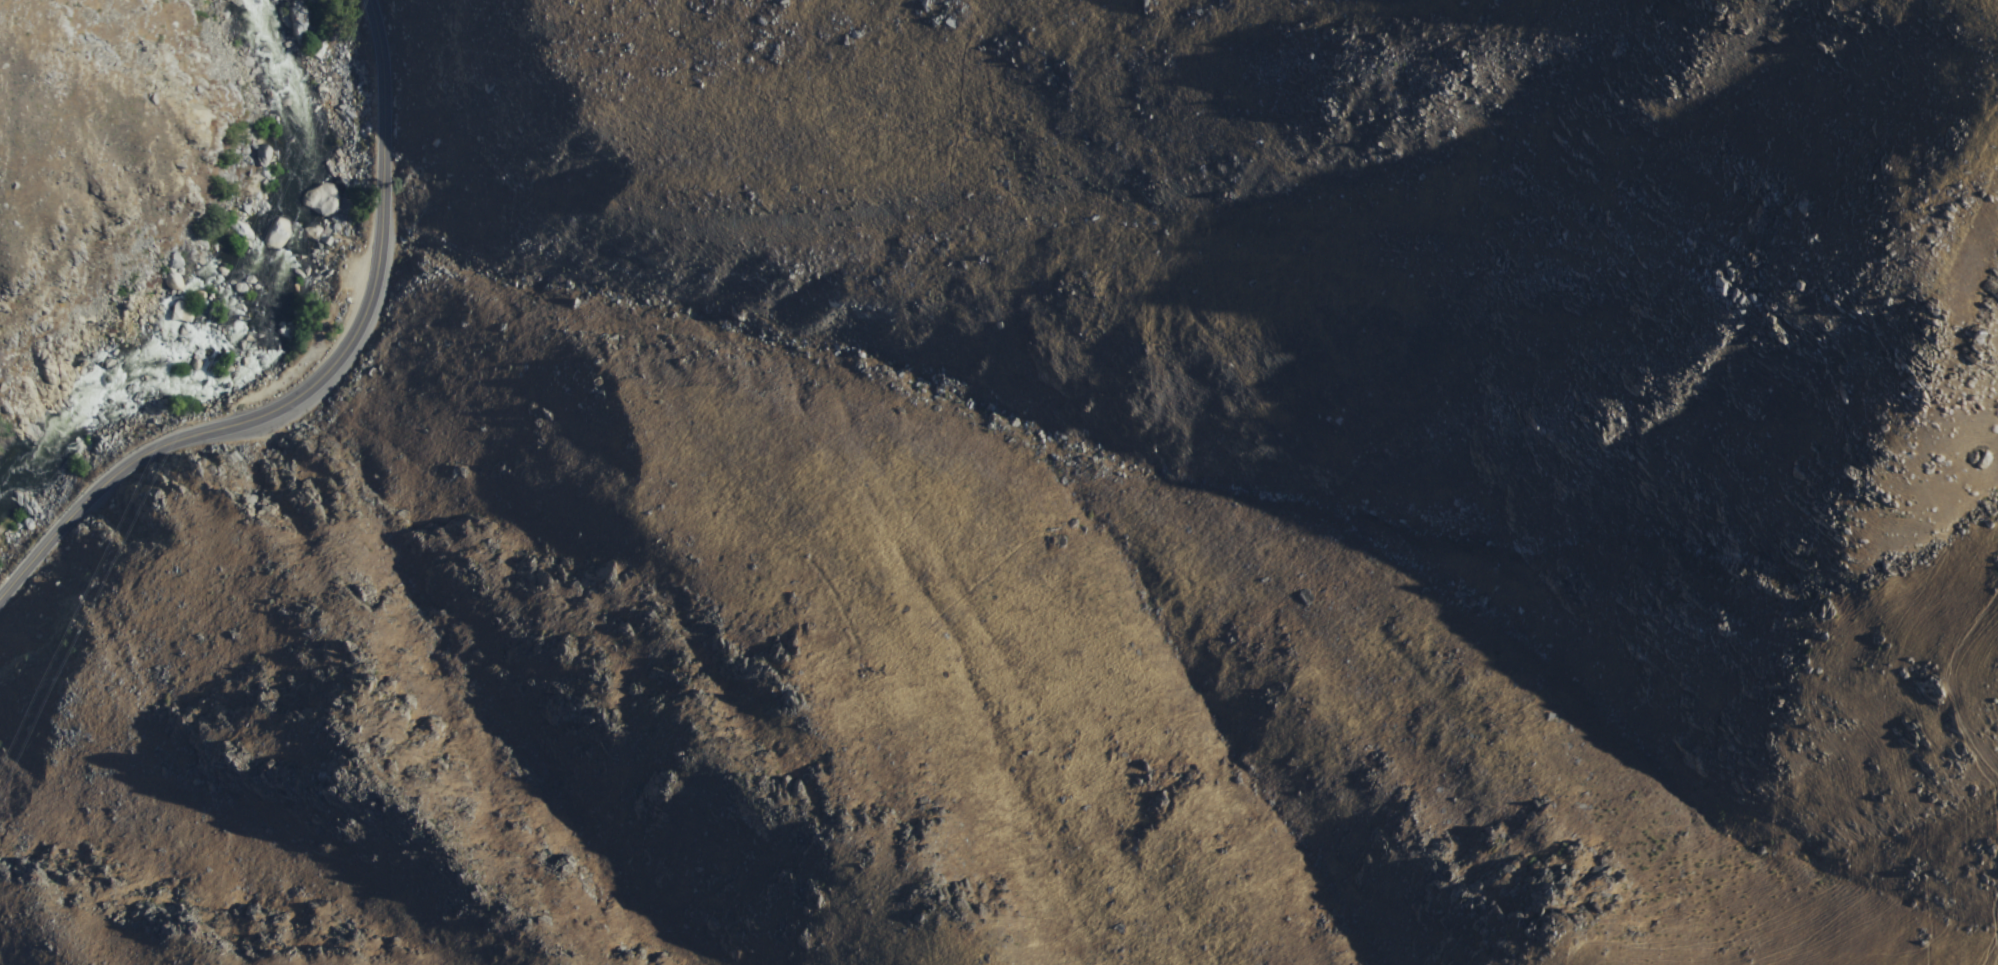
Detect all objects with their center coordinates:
river: (244, 301)
road: (318, 378)

